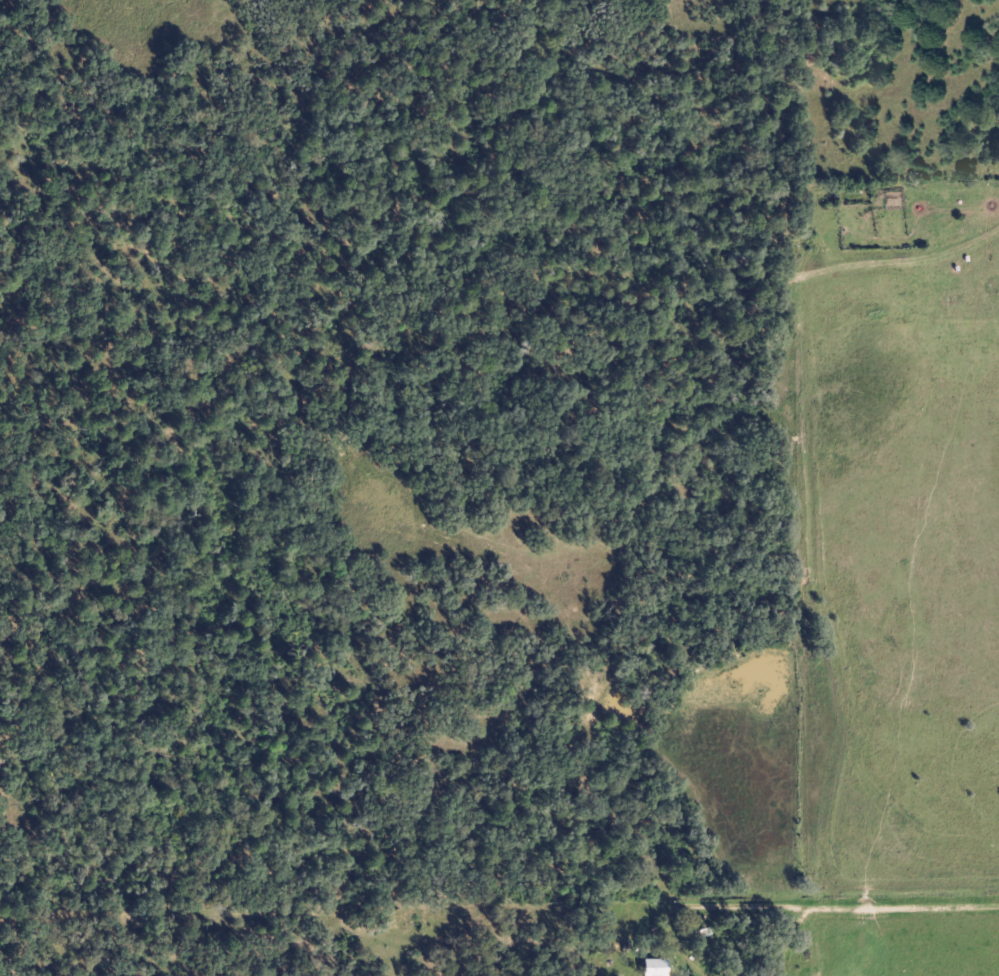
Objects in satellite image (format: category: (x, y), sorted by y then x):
road: (906, 902)
building: (657, 967)

